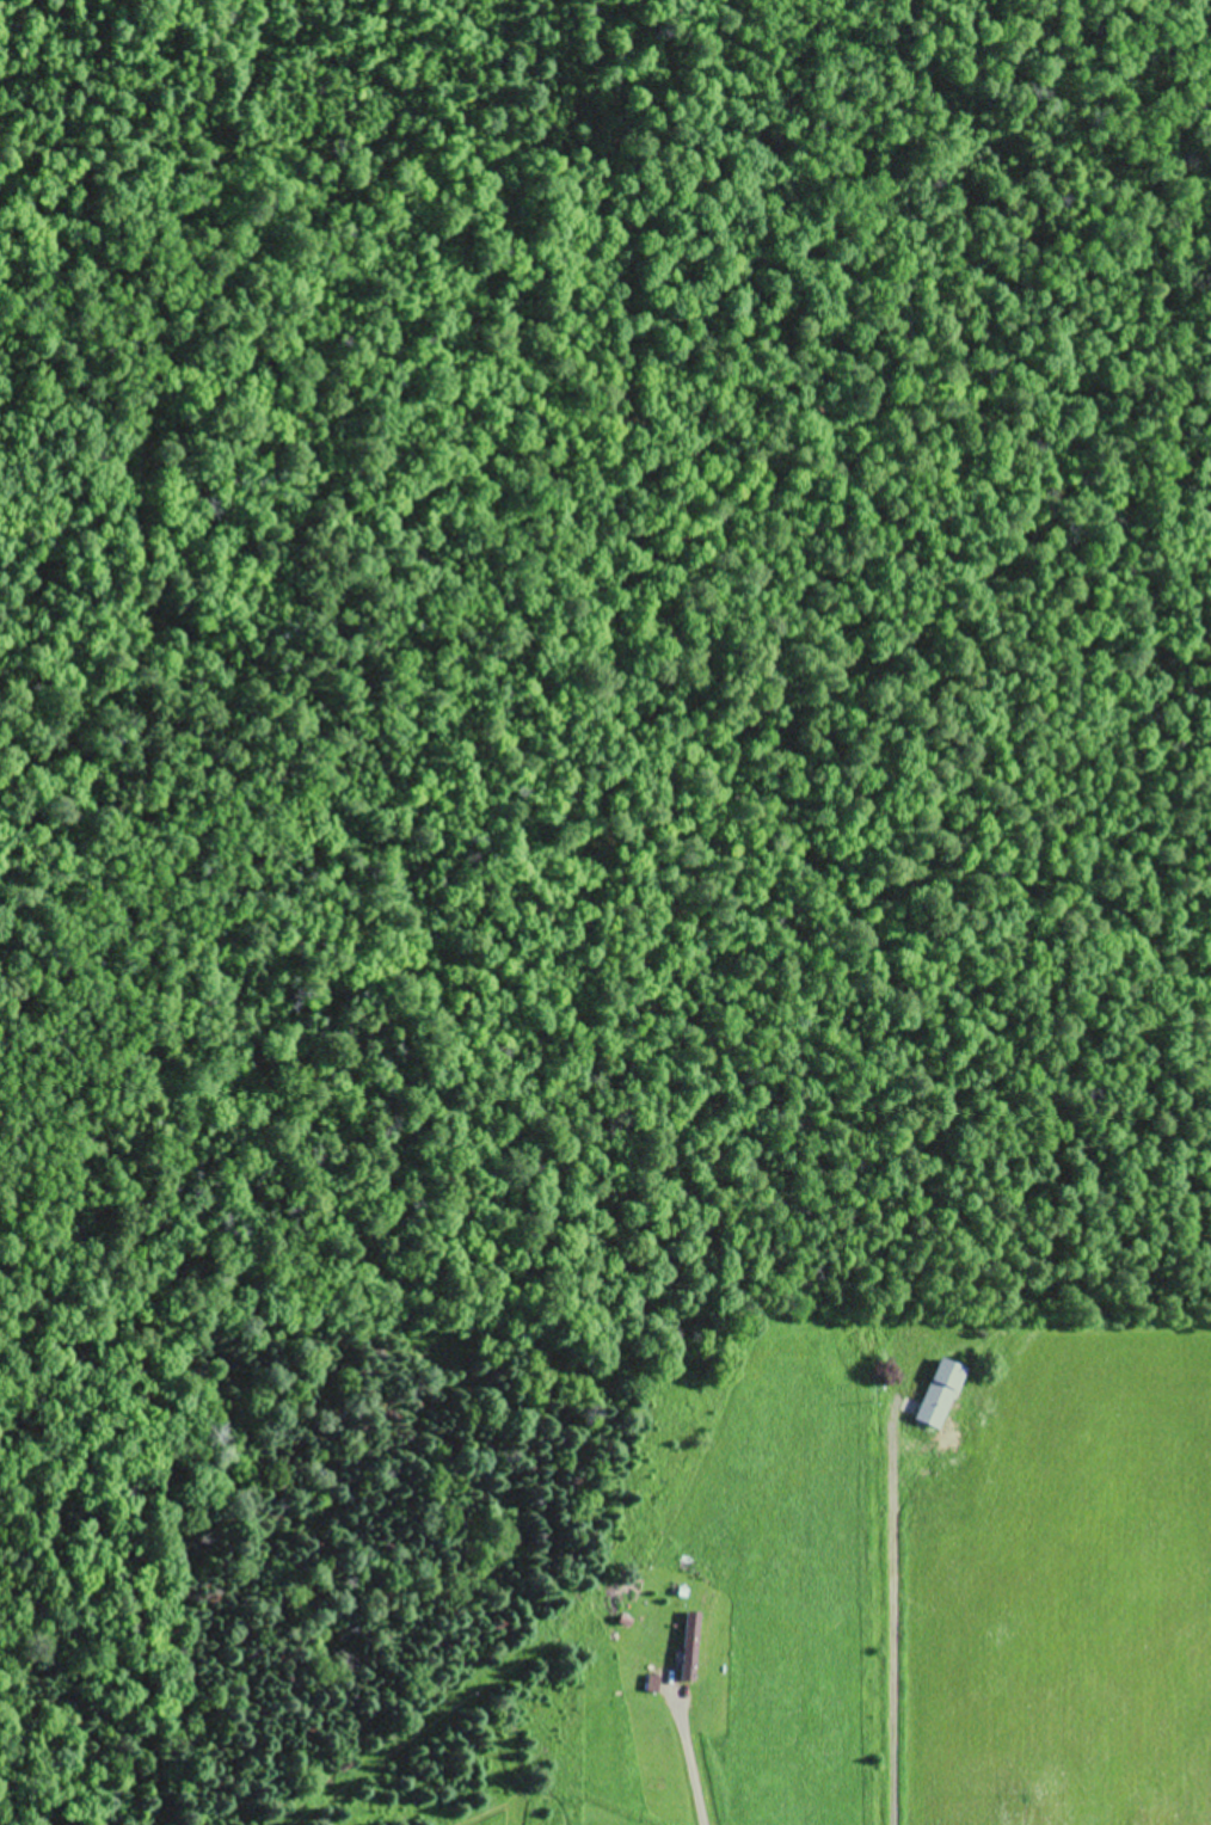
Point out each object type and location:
building: (939, 1391)
building: (690, 1645)

